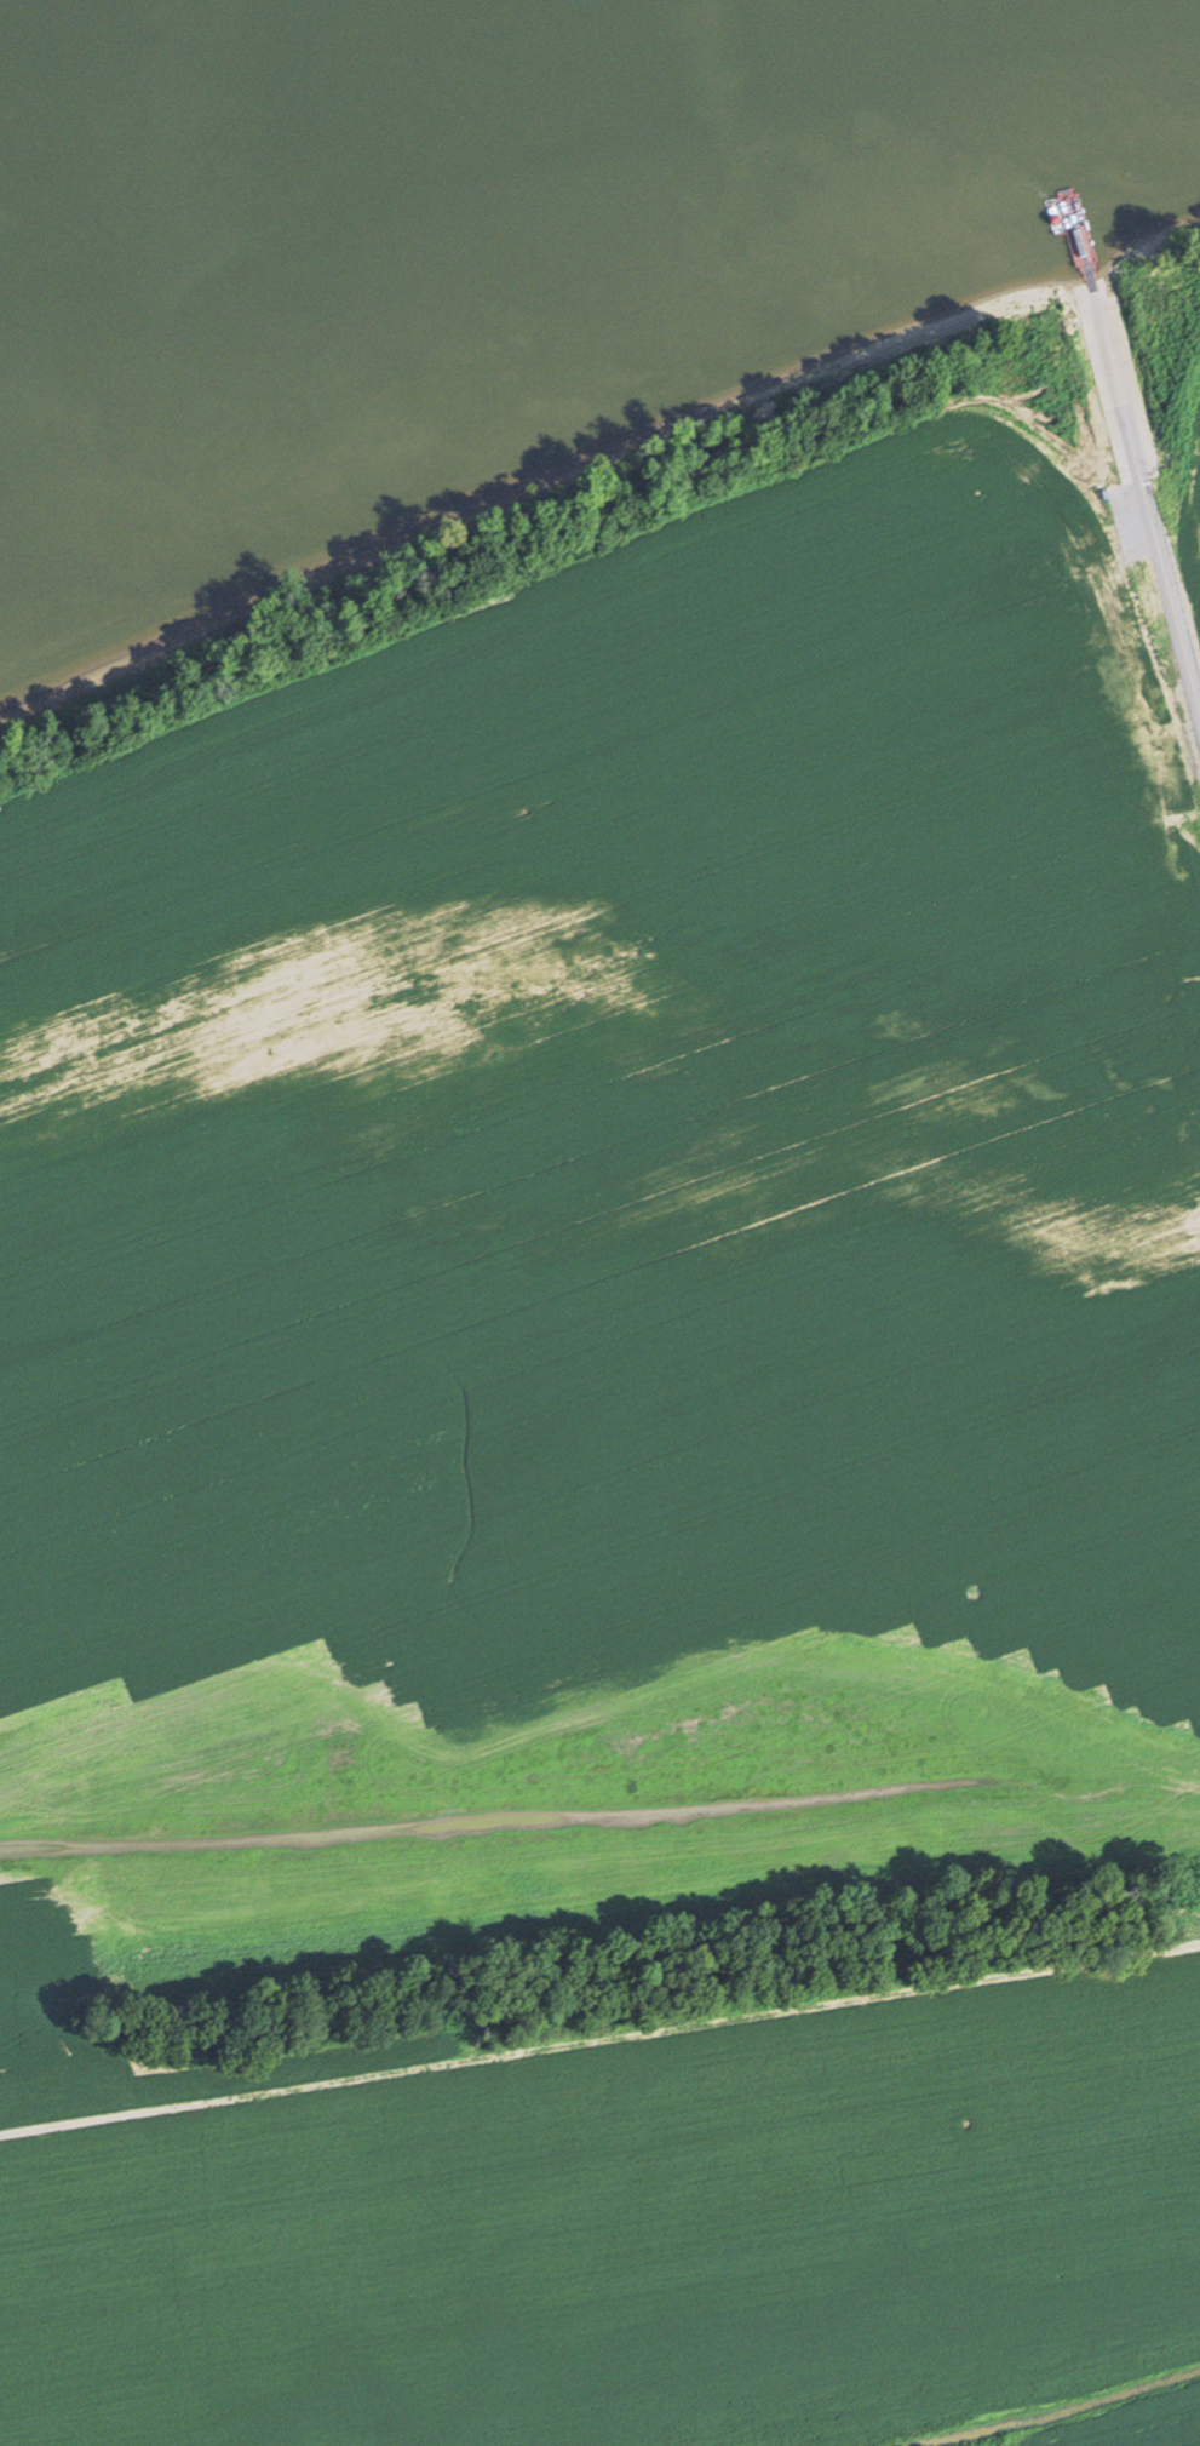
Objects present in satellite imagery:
road: (1146, 503)

